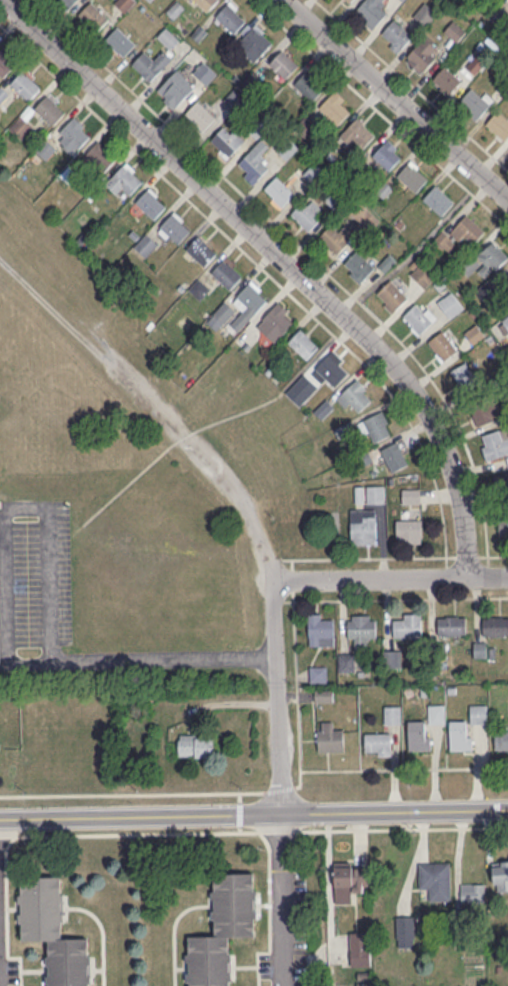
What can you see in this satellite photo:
building: (149, 0)
building: (349, 0)
building: (68, 2)
building: (205, 3)
building: (124, 4)
building: (371, 10)
building: (425, 14)
building: (93, 15)
building: (230, 17)
building: (454, 30)
building: (396, 33)
building: (168, 37)
building: (119, 40)
building: (256, 40)
building: (423, 54)
building: (4, 63)
building: (283, 63)
building: (146, 65)
building: (204, 72)
building: (446, 80)
building: (24, 84)
road: (411, 84)
building: (309, 85)
building: (172, 90)
building: (0, 98)
building: (233, 98)
road: (397, 99)
building: (473, 102)
building: (334, 107)
building: (49, 109)
road: (381, 113)
building: (199, 114)
building: (499, 123)
building: (21, 125)
building: (357, 131)
building: (74, 133)
building: (225, 140)
building: (287, 147)
building: (100, 155)
building: (386, 155)
building: (253, 164)
building: (314, 171)
building: (411, 175)
building: (126, 178)
building: (279, 190)
building: (438, 198)
building: (150, 203)
building: (304, 214)
building: (175, 227)
building: (468, 228)
building: (332, 238)
building: (145, 244)
building: (200, 249)
road: (308, 253)
road: (286, 257)
building: (491, 258)
building: (359, 264)
road: (264, 269)
building: (226, 272)
building: (422, 273)
building: (504, 276)
building: (199, 288)
building: (392, 295)
building: (252, 296)
building: (450, 304)
building: (221, 314)
building: (418, 317)
building: (277, 319)
building: (302, 342)
building: (442, 345)
building: (331, 368)
building: (462, 373)
building: (355, 396)
building: (323, 408)
building: (486, 413)
road: (206, 424)
building: (376, 427)
building: (495, 443)
building: (394, 456)
building: (375, 493)
building: (411, 495)
road: (237, 501)
road: (0, 503)
road: (3, 506)
road: (15, 509)
building: (503, 524)
building: (363, 526)
building: (408, 530)
road: (466, 555)
road: (492, 555)
road: (368, 556)
road: (274, 561)
road: (291, 563)
road: (488, 569)
road: (446, 570)
road: (390, 575)
parking lot: (39, 577)
road: (292, 580)
road: (395, 598)
road: (278, 600)
building: (319, 625)
building: (407, 625)
building: (451, 625)
building: (495, 625)
building: (360, 629)
building: (391, 658)
road: (141, 660)
building: (346, 661)
road: (2, 662)
building: (317, 672)
road: (296, 690)
road: (278, 695)
building: (323, 695)
building: (435, 712)
building: (392, 713)
building: (478, 713)
building: (459, 734)
building: (417, 735)
building: (330, 738)
building: (501, 738)
building: (377, 742)
building: (195, 745)
road: (404, 769)
road: (279, 788)
road: (131, 793)
road: (239, 796)
road: (239, 813)
road: (254, 814)
road: (406, 817)
road: (406, 825)
road: (240, 828)
road: (403, 828)
road: (280, 831)
road: (137, 832)
road: (7, 835)
building: (500, 875)
building: (435, 879)
building: (349, 881)
building: (472, 892)
road: (283, 900)
building: (233, 904)
building: (40, 906)
road: (268, 913)
road: (7, 914)
building: (404, 930)
road: (102, 931)
road: (174, 931)
building: (360, 948)
building: (208, 960)
building: (68, 961)
road: (181, 967)
road: (96, 969)

